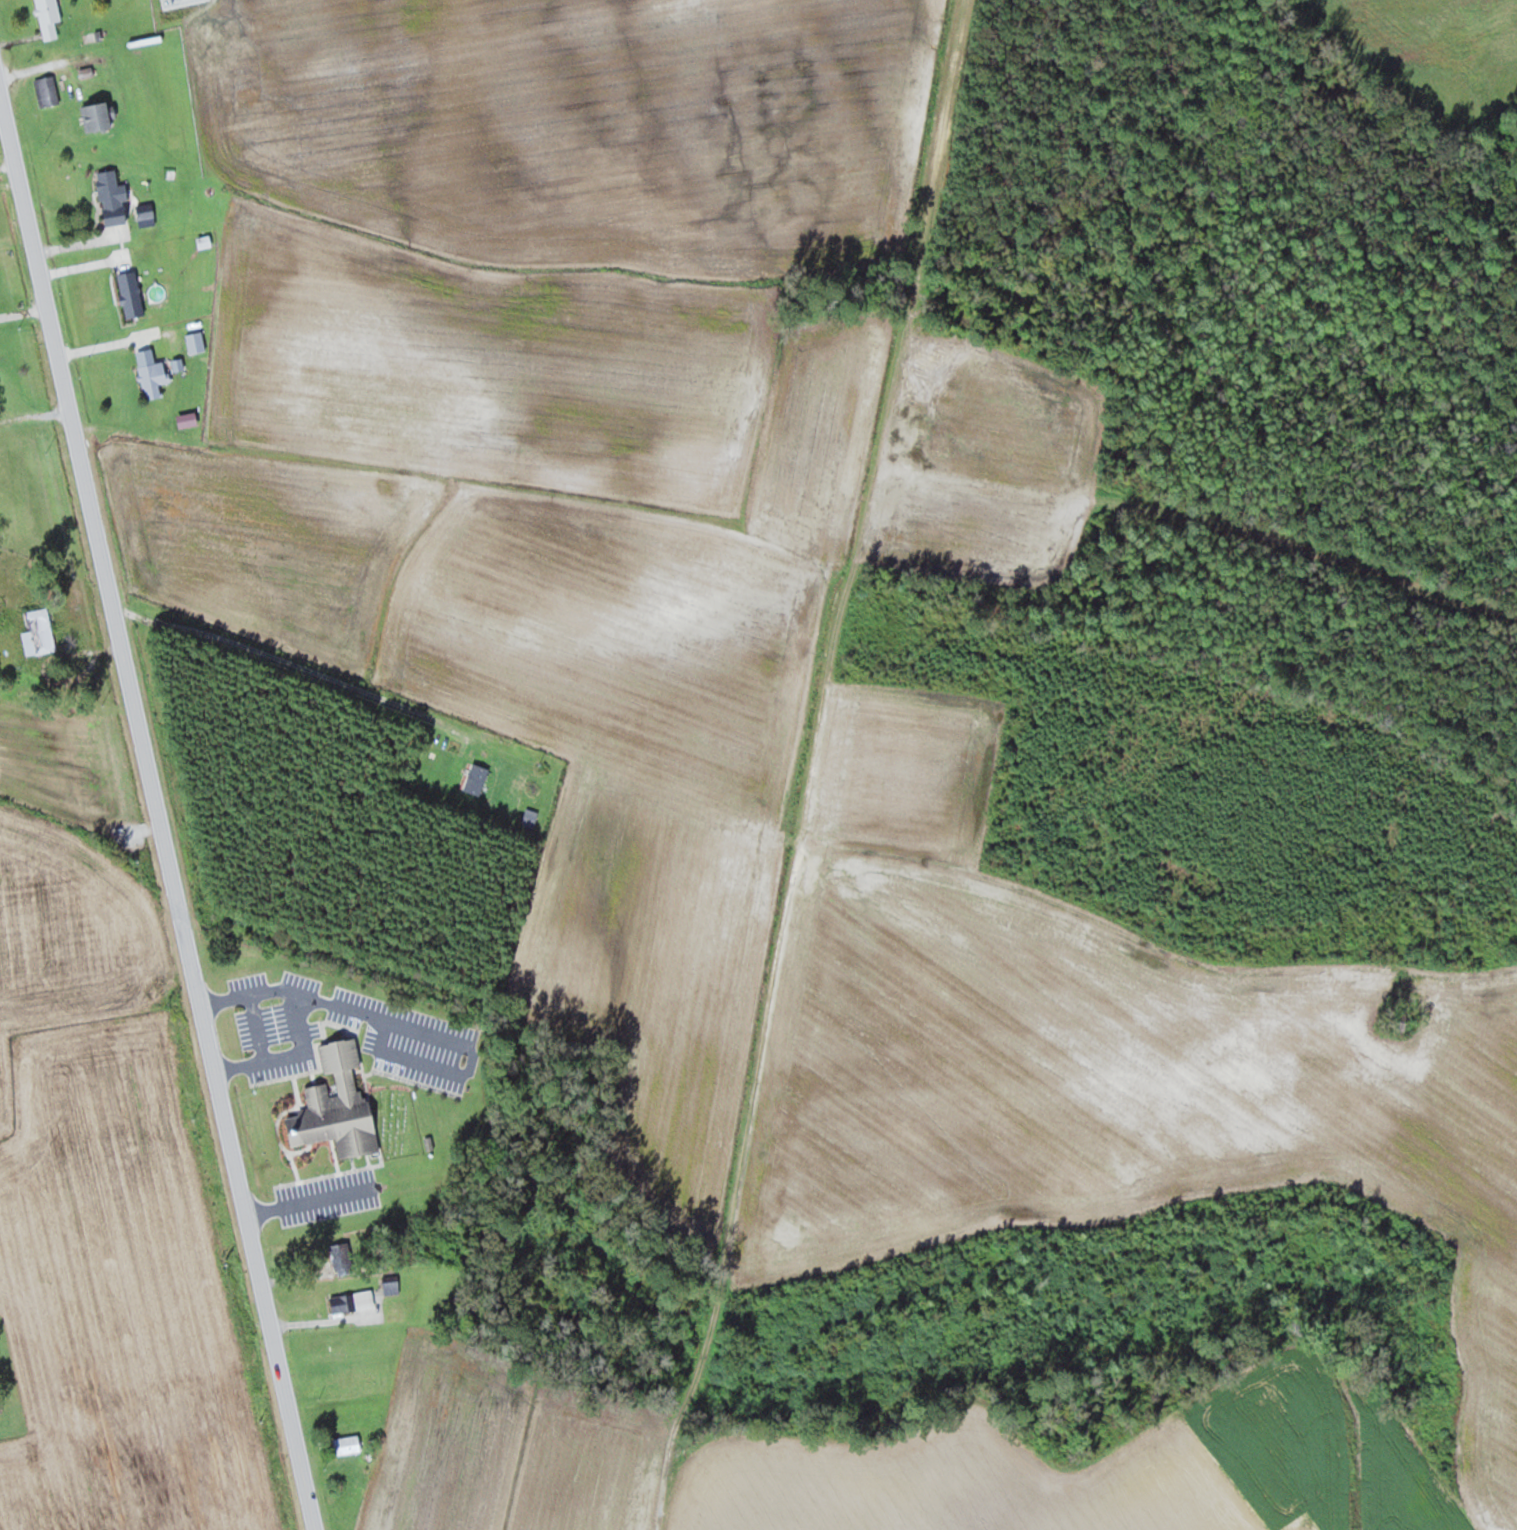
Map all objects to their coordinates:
building: (49, 17)
building: (47, 89)
building: (99, 115)
building: (113, 196)
building: (145, 210)
building: (132, 293)
building: (154, 373)
building: (39, 631)
building: (5, 651)
building: (477, 778)
road: (160, 794)
building: (530, 817)
building: (337, 1104)
building: (391, 1283)
building: (353, 1301)
building: (348, 1444)

